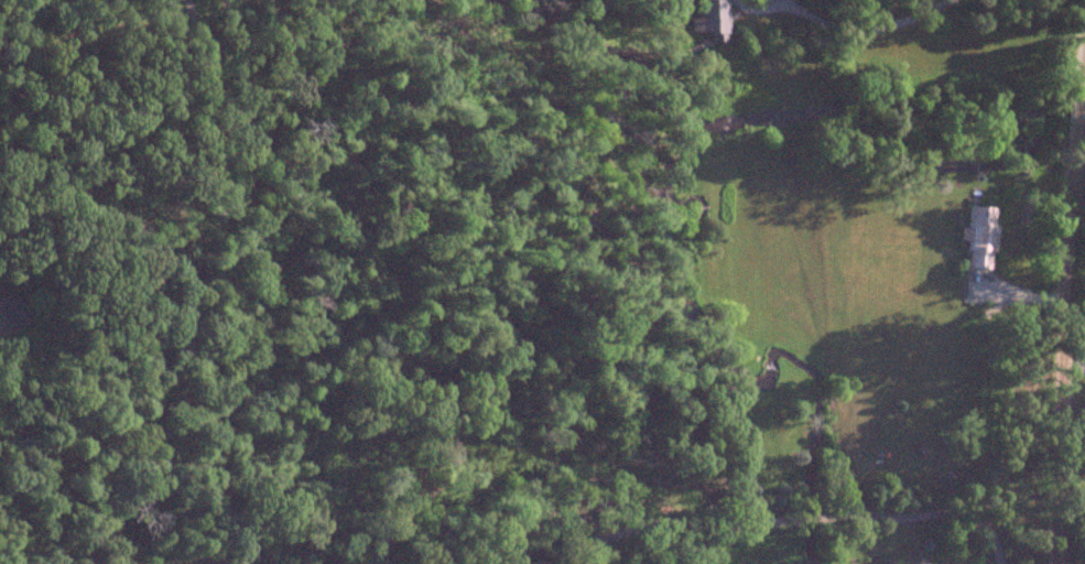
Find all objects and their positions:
building: (710, 19)
road: (861, 28)
road: (129, 138)
building: (979, 238)
road: (1064, 308)
building: (11, 313)
road: (1073, 364)
road: (788, 520)
road: (507, 550)

